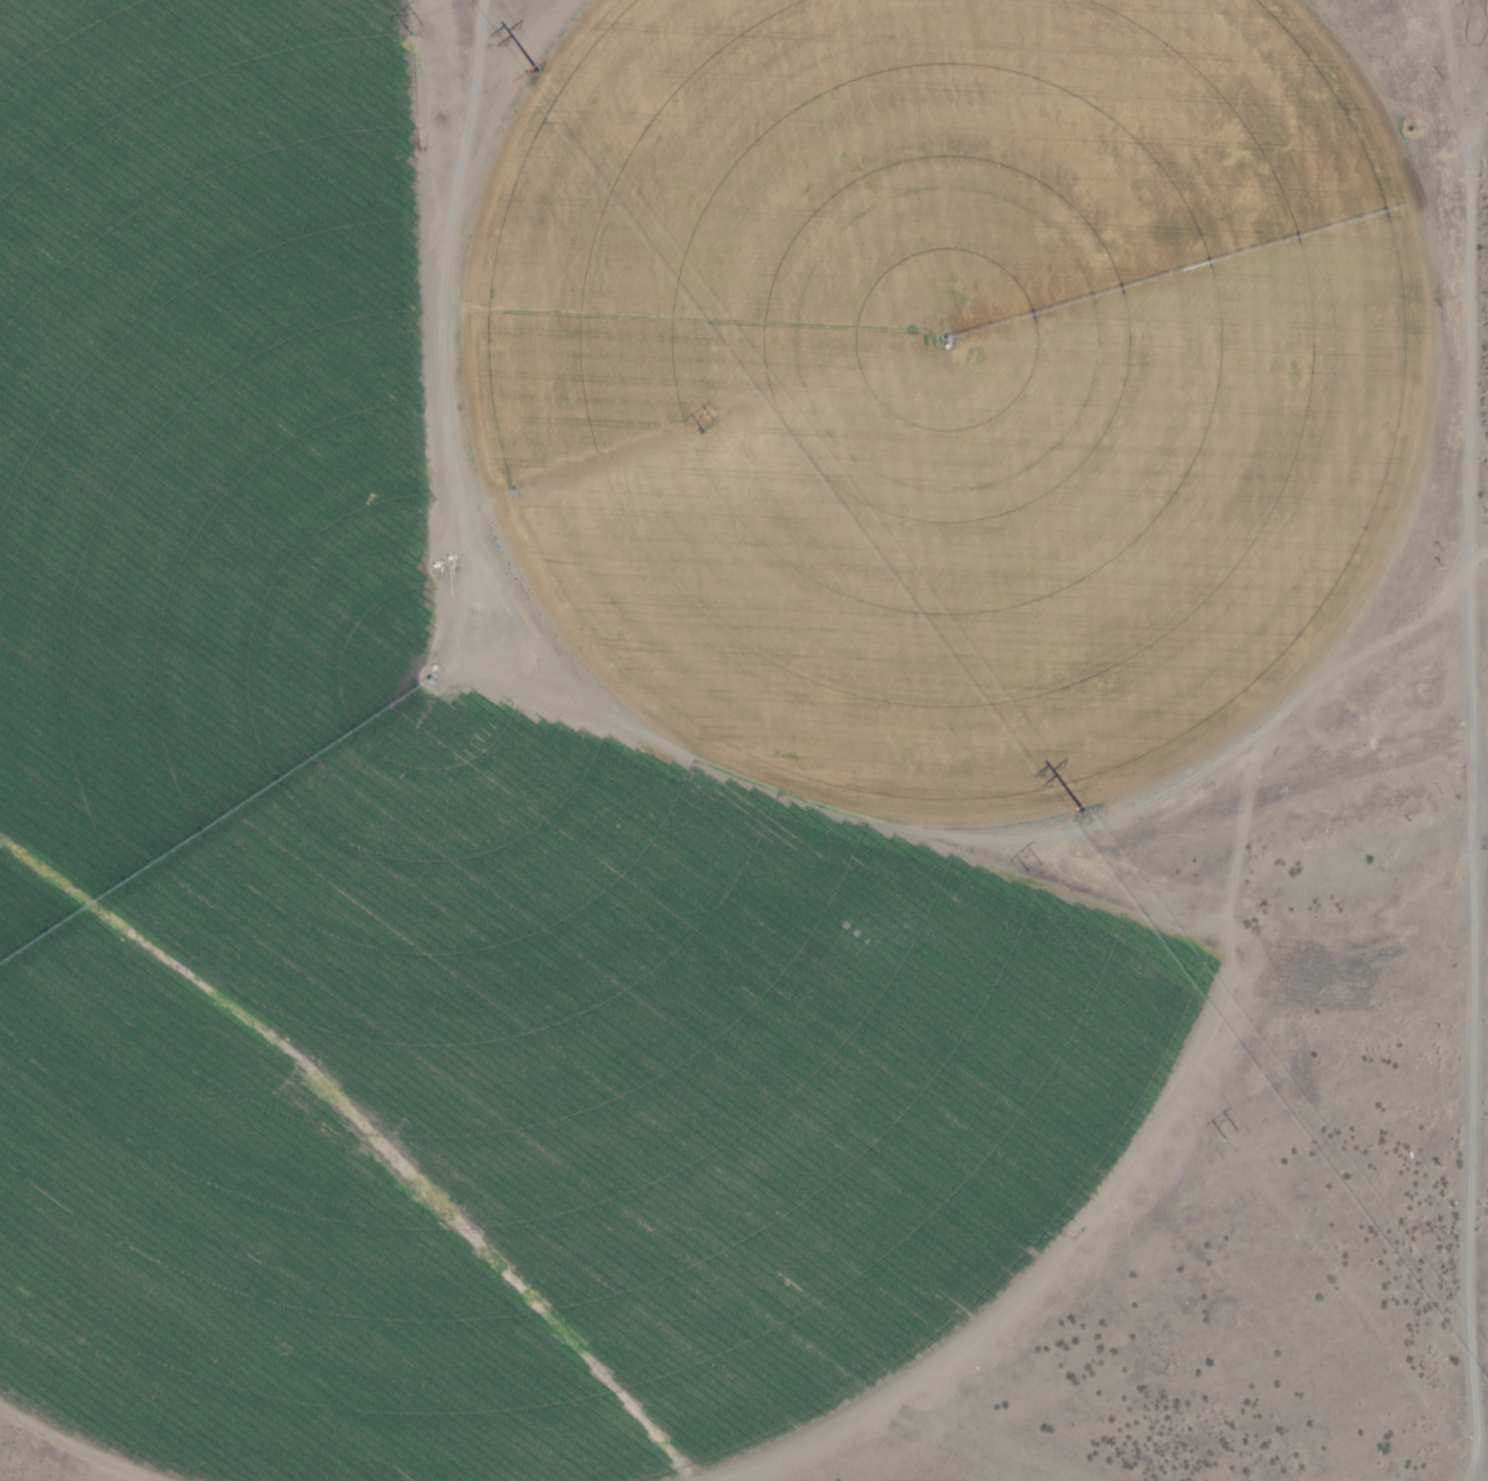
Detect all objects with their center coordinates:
power tower: (418, 25)
power tower: (535, 74)
power tower: (707, 425)
road: (1473, 740)
power tower: (1075, 811)
power tower: (1040, 866)
power tower: (1230, 1134)

